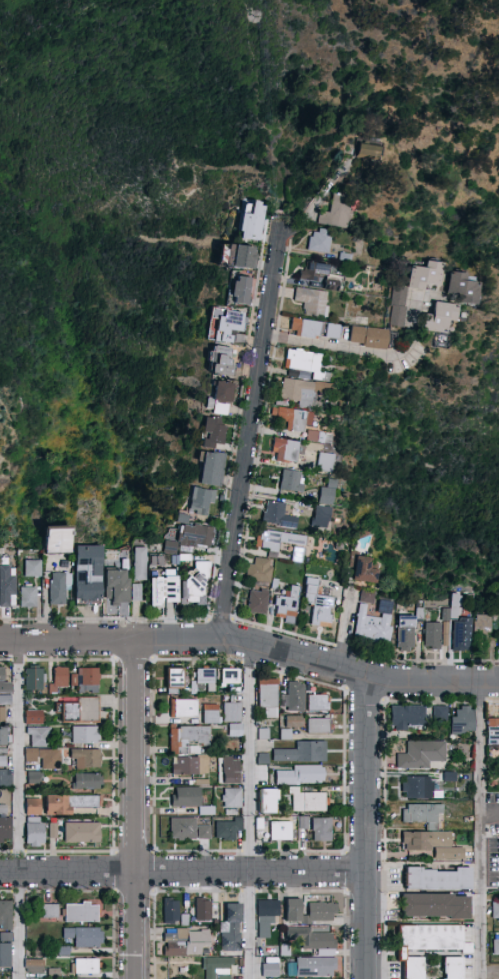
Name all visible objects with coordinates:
building: (367, 150)
road: (316, 200)
building: (340, 213)
building: (247, 222)
building: (322, 241)
building: (347, 257)
building: (239, 258)
building: (426, 274)
building: (323, 275)
building: (463, 286)
building: (243, 291)
building: (314, 301)
building: (400, 306)
building: (441, 316)
building: (233, 328)
building: (316, 329)
building: (370, 336)
road: (363, 352)
building: (223, 362)
building: (310, 363)
building: (301, 375)
building: (305, 393)
building: (222, 399)
building: (295, 418)
building: (215, 433)
building: (321, 437)
road: (249, 439)
building: (287, 450)
building: (326, 463)
building: (215, 470)
building: (294, 481)
building: (333, 484)
building: (328, 496)
building: (203, 501)
building: (280, 515)
building: (180, 516)
building: (323, 516)
building: (184, 520)
building: (361, 534)
building: (196, 538)
building: (279, 541)
building: (58, 542)
building: (340, 546)
building: (172, 549)
building: (299, 555)
building: (187, 559)
building: (176, 561)
building: (159, 562)
building: (66, 565)
building: (141, 565)
building: (364, 568)
building: (34, 570)
building: (261, 572)
building: (89, 575)
building: (276, 584)
building: (119, 586)
building: (197, 586)
building: (8, 588)
building: (61, 589)
building: (151, 589)
building: (165, 591)
building: (138, 594)
building: (29, 597)
building: (368, 597)
building: (260, 602)
building: (289, 603)
building: (320, 603)
building: (455, 605)
building: (498, 611)
building: (419, 614)
building: (446, 615)
building: (376, 623)
road: (352, 626)
building: (483, 628)
building: (406, 633)
building: (434, 635)
building: (463, 635)
road: (252, 643)
building: (231, 676)
building: (32, 677)
building: (84, 678)
building: (174, 679)
building: (205, 680)
building: (3, 682)
building: (235, 691)
building: (266, 695)
building: (293, 695)
building: (4, 698)
building: (316, 701)
building: (86, 707)
building: (185, 708)
building: (65, 710)
building: (234, 712)
building: (1, 713)
building: (438, 713)
building: (213, 714)
building: (32, 715)
building: (405, 715)
building: (291, 719)
building: (461, 719)
building: (316, 724)
building: (492, 729)
building: (237, 730)
building: (83, 732)
building: (2, 735)
building: (38, 735)
building: (189, 739)
building: (300, 750)
building: (420, 753)
building: (42, 756)
building: (83, 756)
road: (247, 758)
building: (2, 760)
building: (192, 766)
building: (230, 771)
building: (299, 773)
building: (4, 775)
building: (32, 775)
building: (85, 779)
building: (203, 783)
building: (415, 786)
building: (233, 798)
building: (265, 799)
building: (305, 799)
building: (81, 800)
building: (191, 800)
building: (53, 803)
building: (31, 805)
building: (2, 808)
road: (20, 809)
road: (136, 809)
building: (421, 813)
road: (491, 813)
building: (301, 821)
building: (4, 827)
road: (368, 827)
building: (319, 828)
building: (32, 829)
building: (51, 829)
building: (184, 829)
building: (278, 829)
building: (230, 830)
building: (79, 831)
road: (482, 831)
building: (206, 833)
building: (498, 834)
building: (431, 843)
road: (184, 874)
building: (436, 877)
building: (432, 903)
building: (290, 908)
building: (47, 909)
building: (494, 909)
building: (79, 911)
building: (169, 911)
building: (204, 911)
building: (318, 911)
building: (4, 912)
building: (265, 915)
building: (182, 918)
building: (186, 920)
road: (247, 926)
building: (233, 929)
building: (5, 934)
building: (82, 935)
building: (309, 936)
building: (428, 936)
building: (187, 943)
building: (495, 943)
building: (61, 949)
building: (4, 953)
building: (32, 964)
building: (84, 965)
building: (313, 965)
building: (218, 967)
building: (411, 967)
building: (450, 967)
building: (268, 968)
building: (226, 977)
building: (85, 978)

